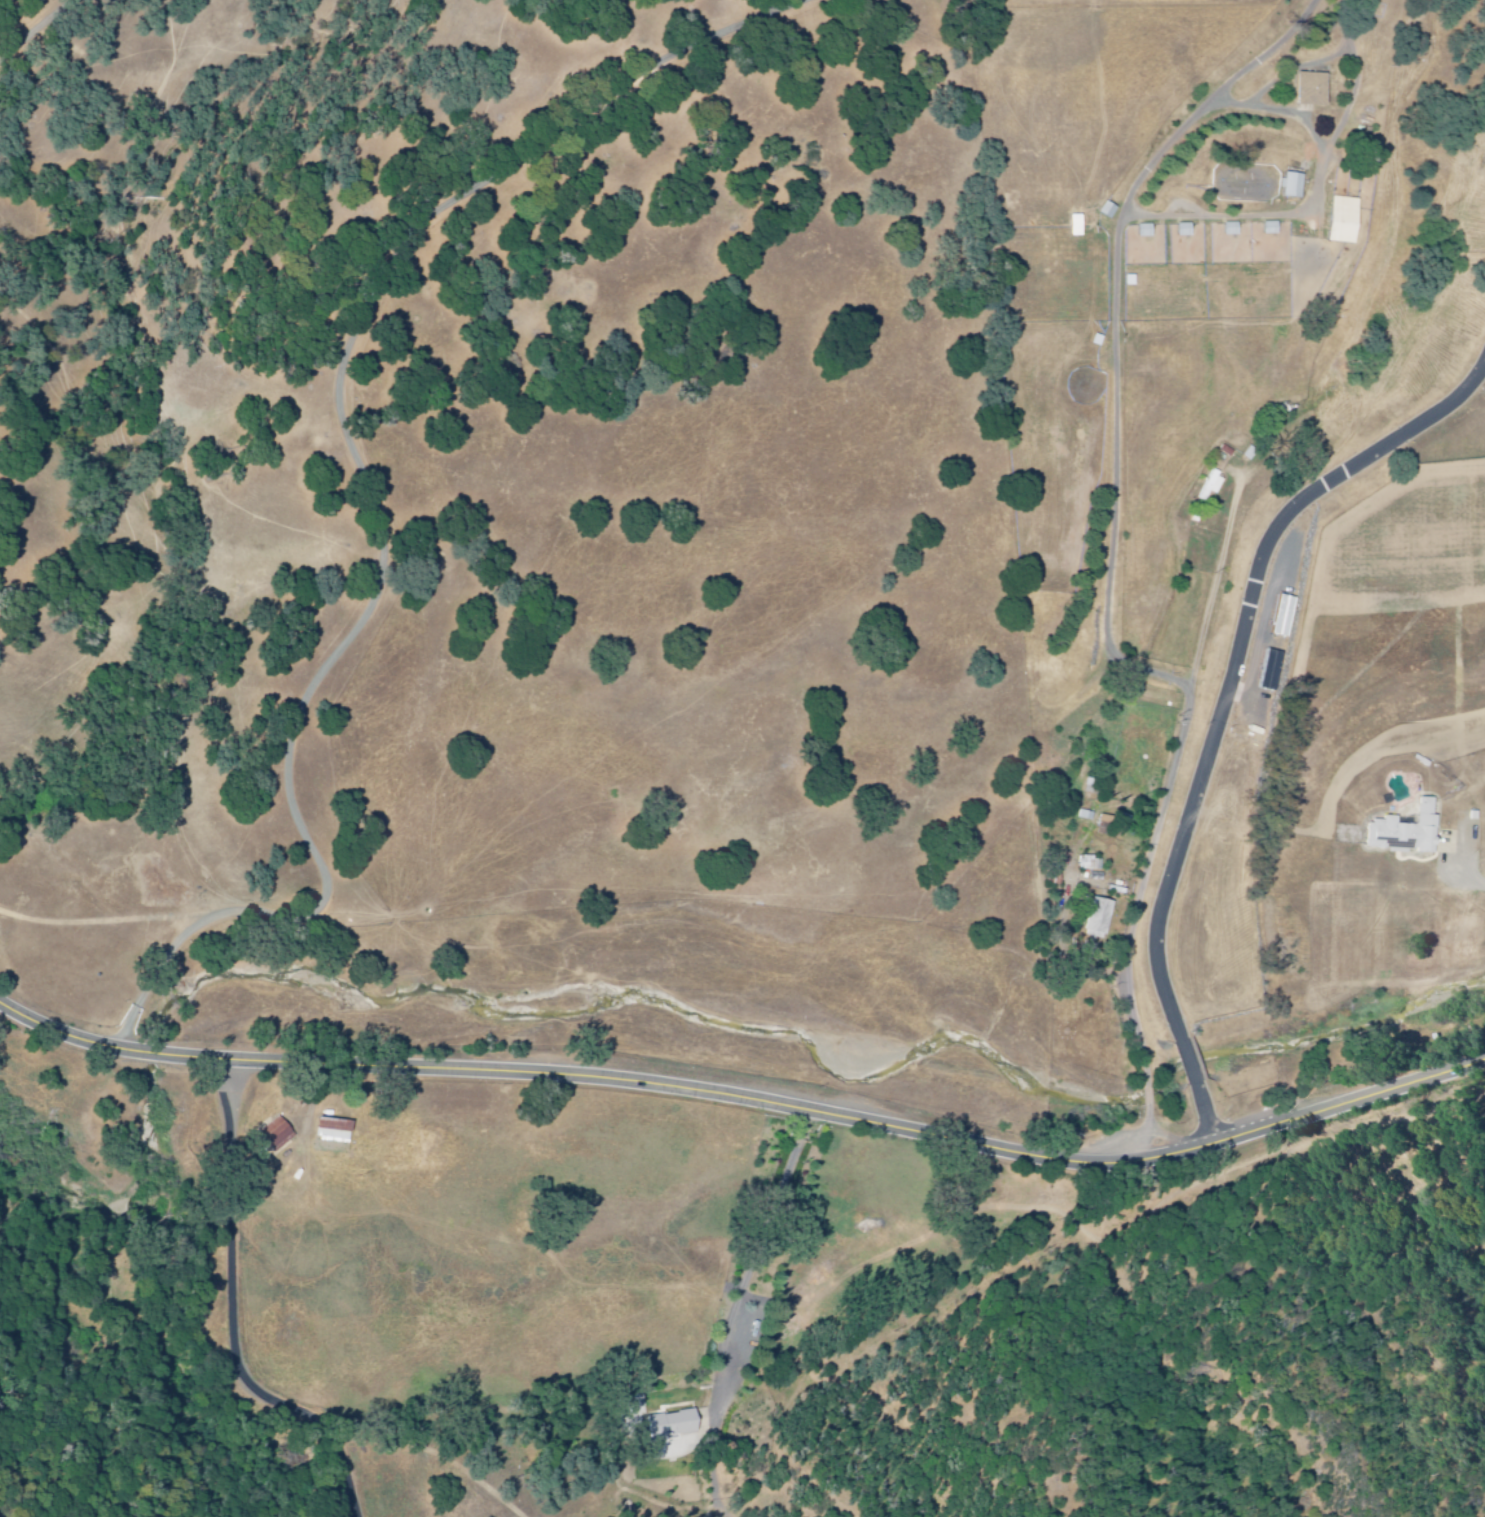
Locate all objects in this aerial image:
road: (38, 31)
road: (1349, 54)
building: (1308, 90)
road: (1296, 118)
building: (1292, 186)
building: (1106, 211)
building: (1341, 221)
building: (1074, 227)
building: (1269, 229)
building: (1183, 231)
building: (1144, 232)
road: (1117, 345)
road: (365, 483)
building: (1209, 486)
road: (1217, 582)
building: (1282, 617)
building: (1270, 671)
road: (1225, 712)
building: (1403, 833)
building: (1097, 921)
road: (1131, 924)
road: (747, 1101)
building: (278, 1135)
building: (335, 1137)
road: (753, 1257)
road: (236, 1317)
building: (676, 1425)

